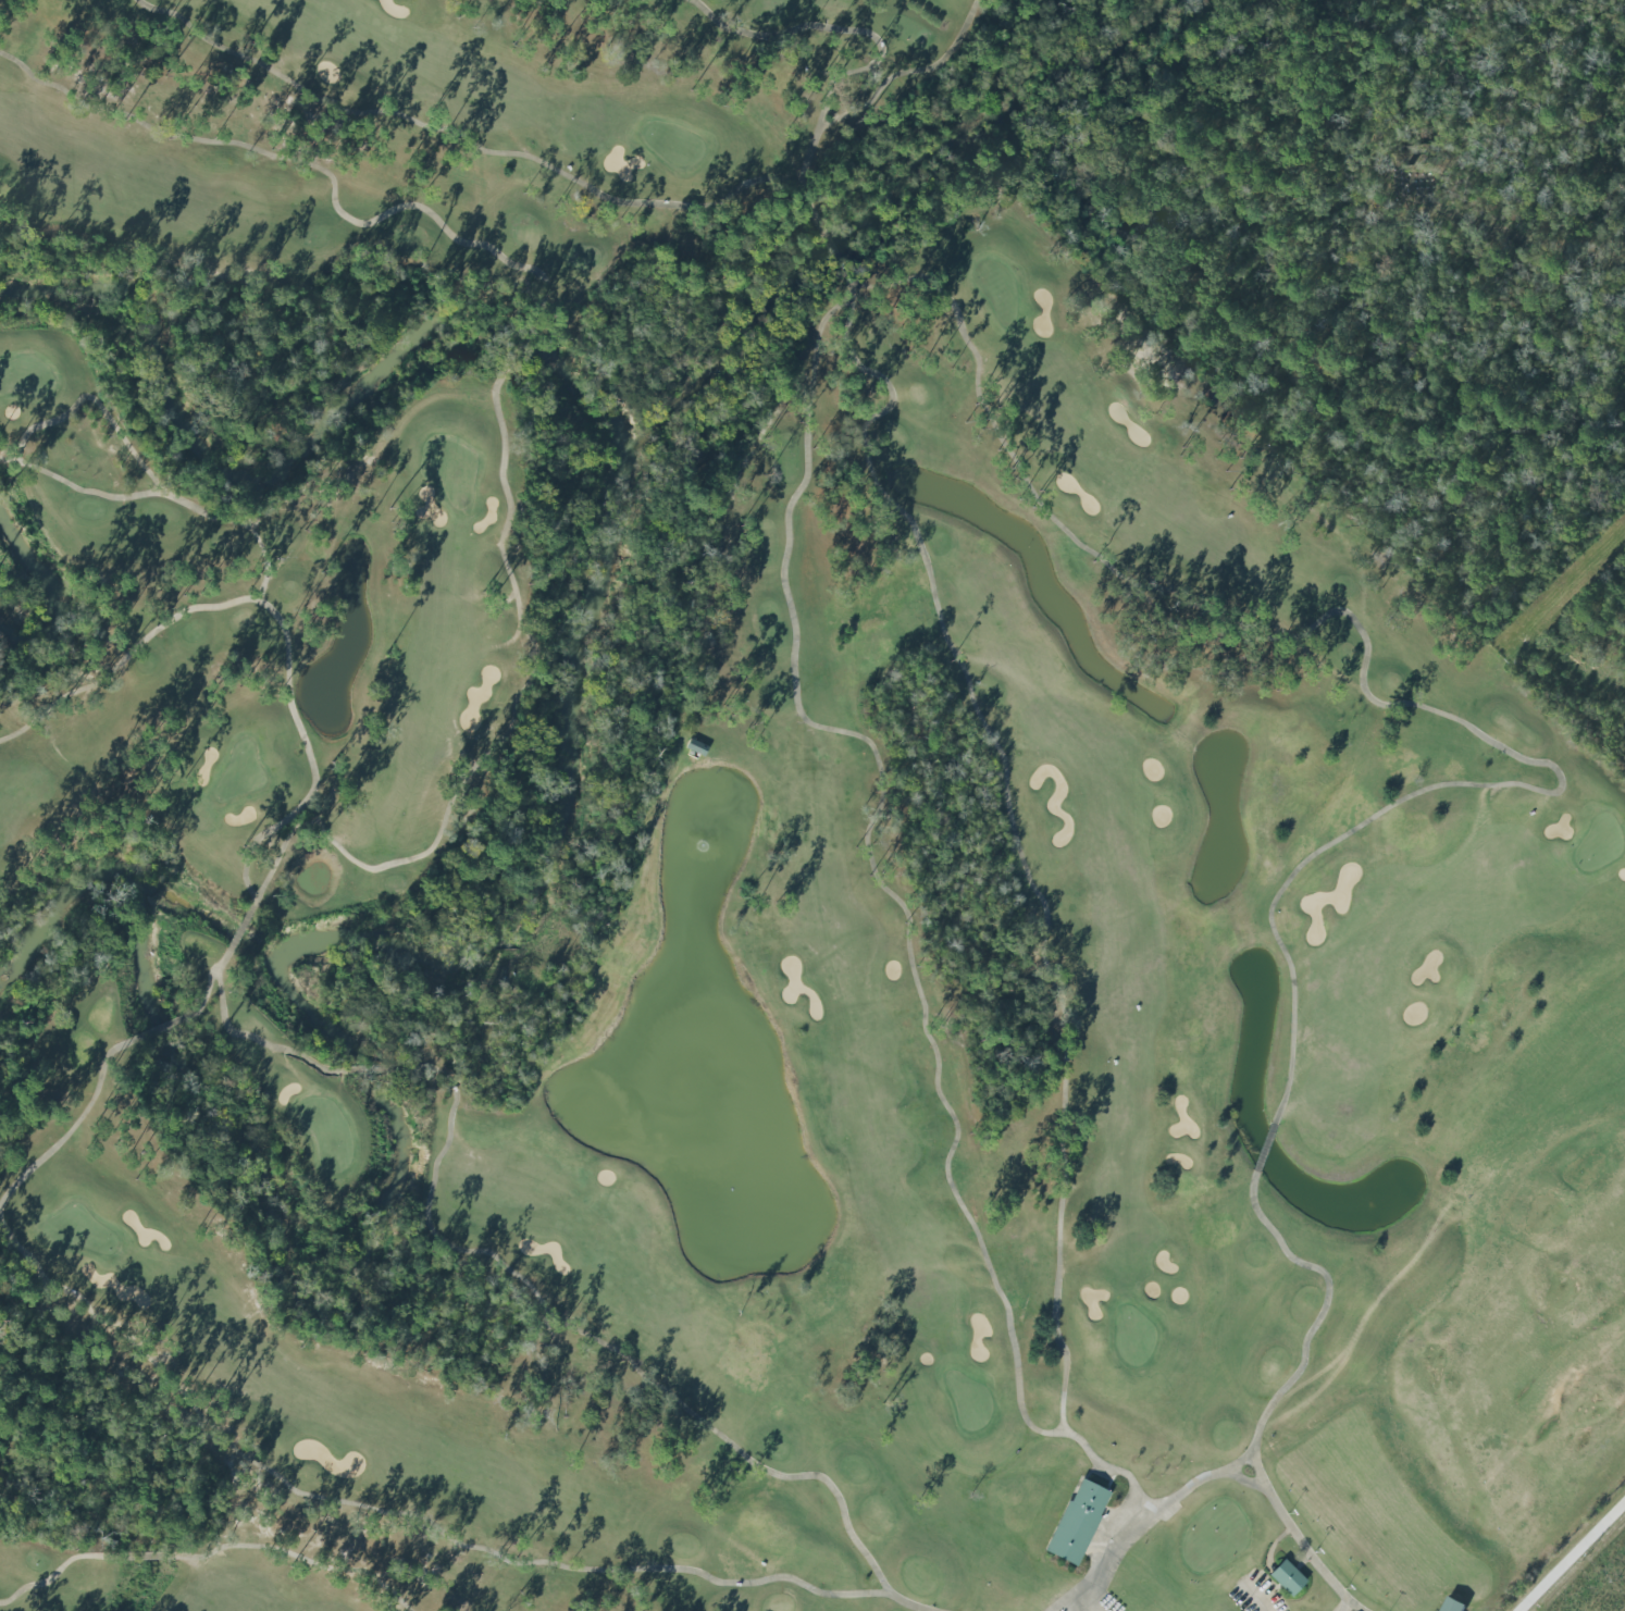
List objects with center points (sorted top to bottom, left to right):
river: (52, 597)
building: (695, 747)
park: (772, 839)
river: (517, 926)
building: (1078, 1522)
road: (1570, 1553)
building: (1289, 1576)
road: (1254, 1595)
building: (1452, 1604)

